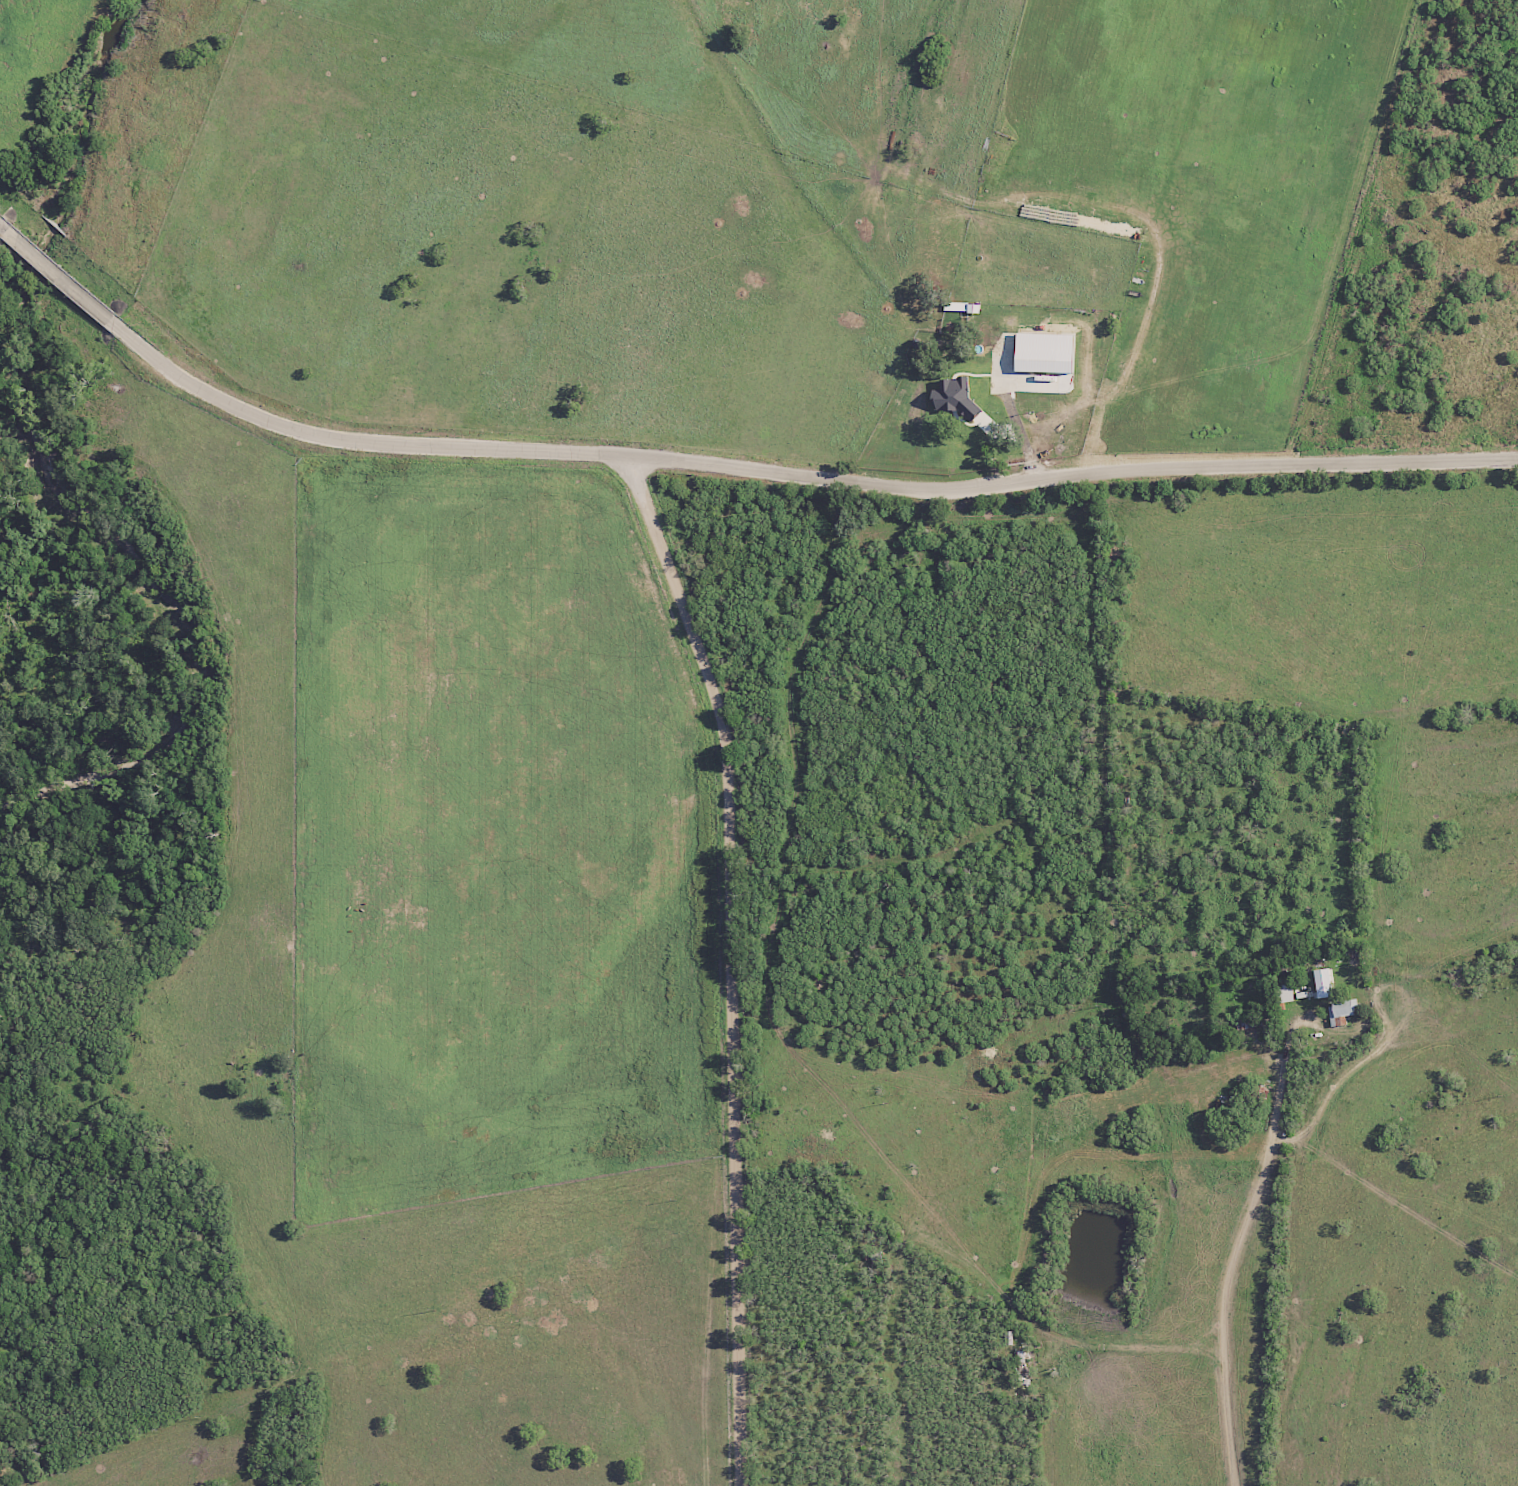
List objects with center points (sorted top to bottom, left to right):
building: (1042, 352)
road: (725, 461)
road: (733, 961)
building: (1321, 983)
building: (1341, 1011)

